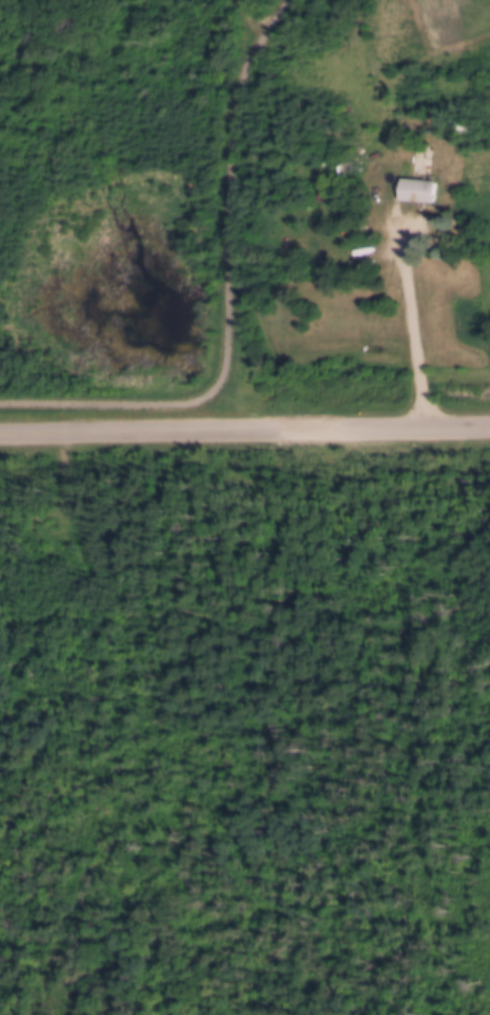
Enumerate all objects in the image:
road: (253, 14)
building: (459, 130)
building: (371, 153)
building: (347, 160)
building: (414, 187)
road: (226, 298)
road: (416, 318)
road: (244, 427)

